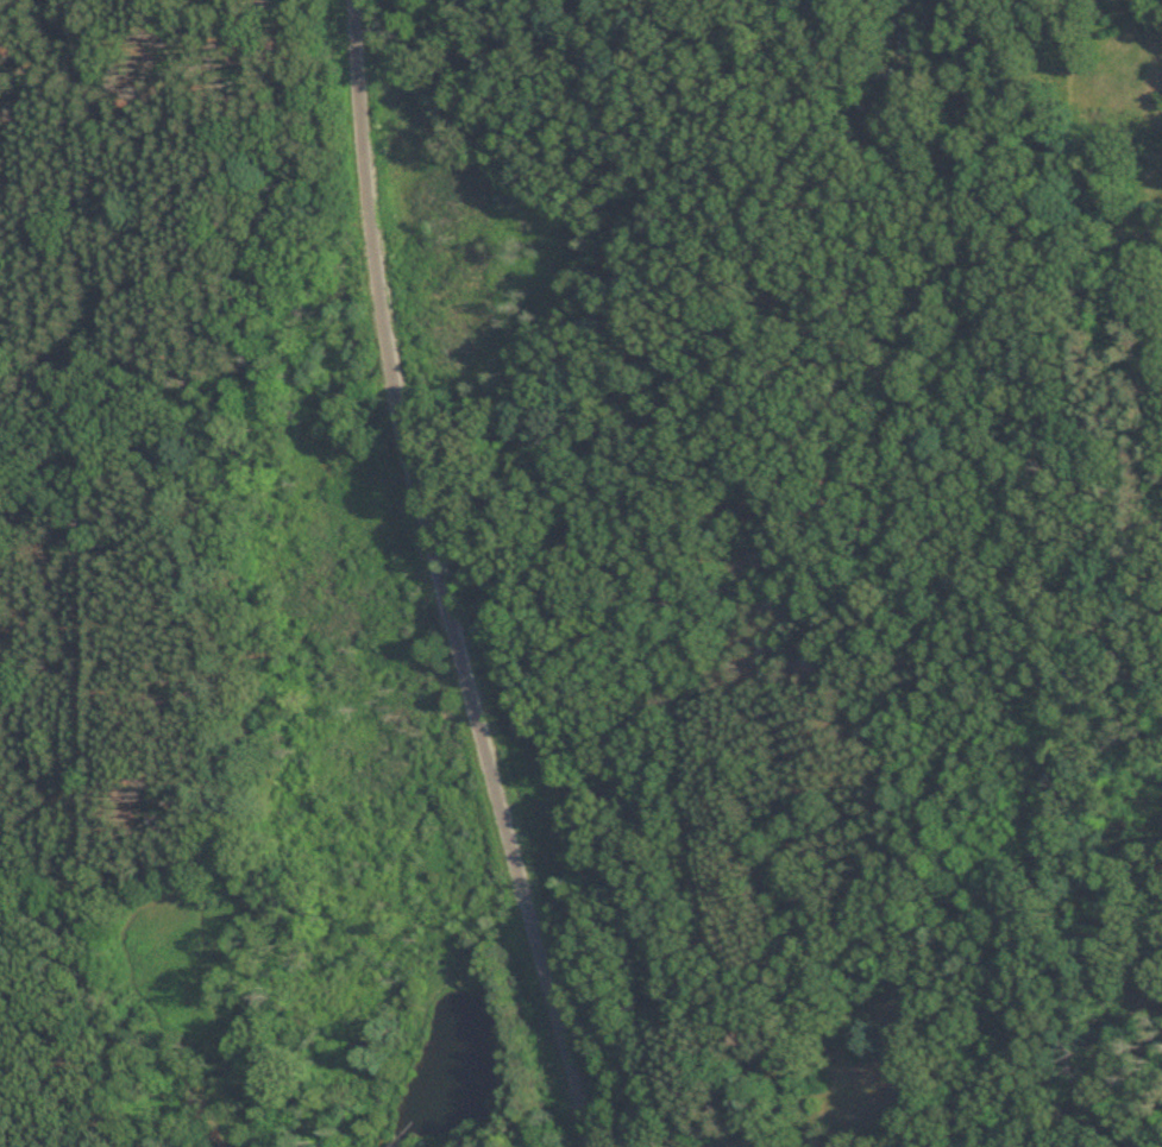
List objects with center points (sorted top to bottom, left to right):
road: (439, 579)
road: (852, 1027)

